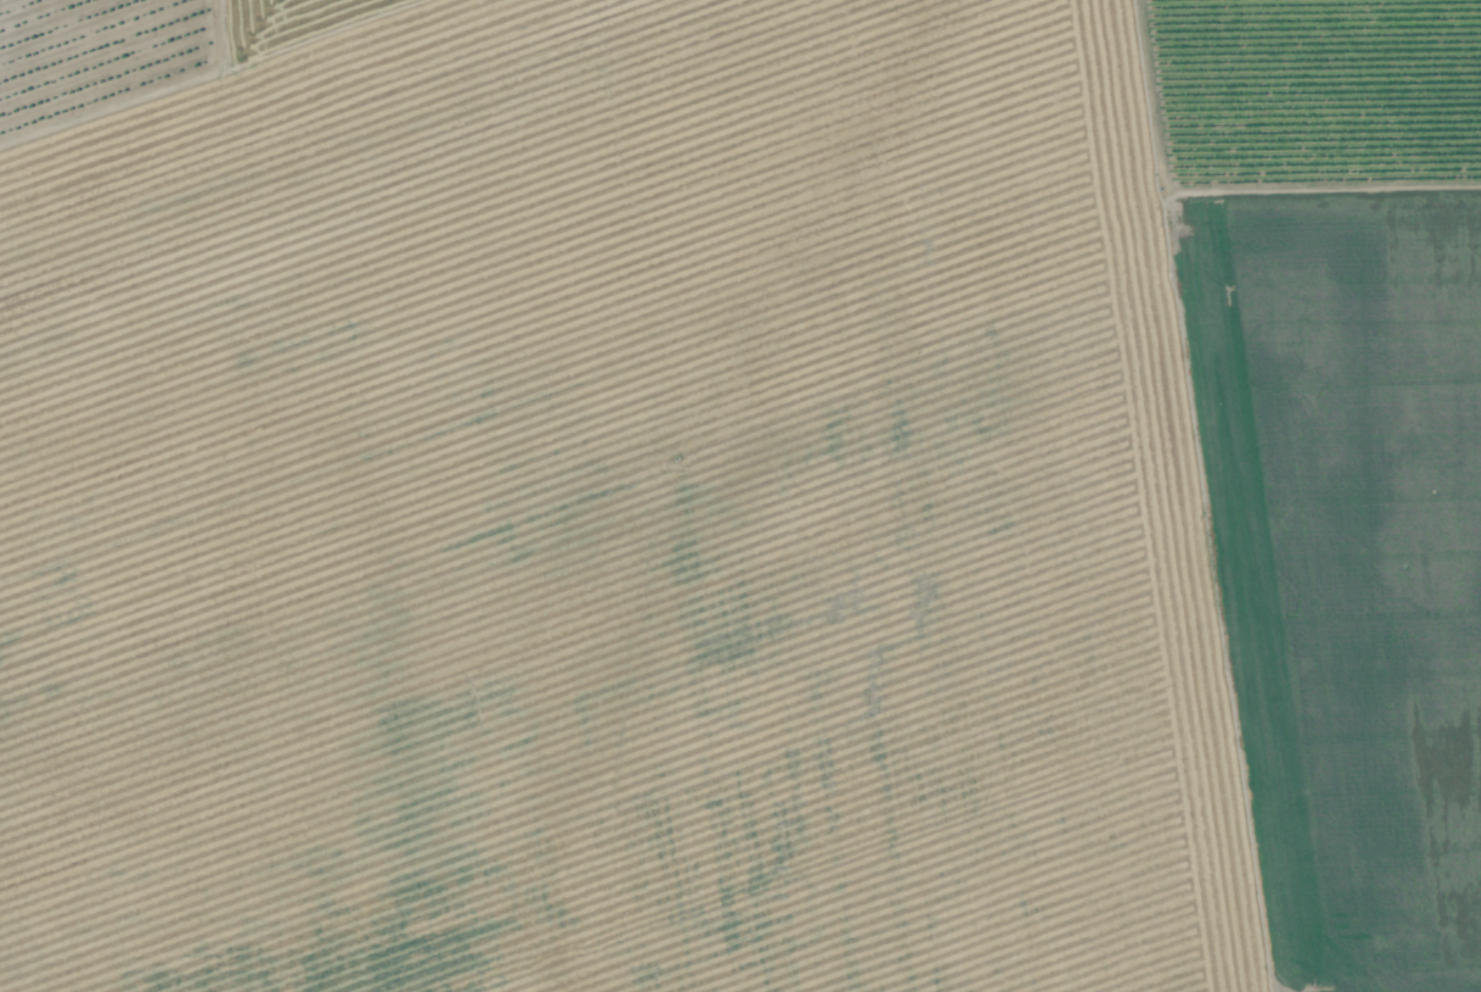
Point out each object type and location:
road: (1144, 93)
road: (1319, 189)
crop: (750, 502)
road: (1216, 589)
road: (1413, 970)

